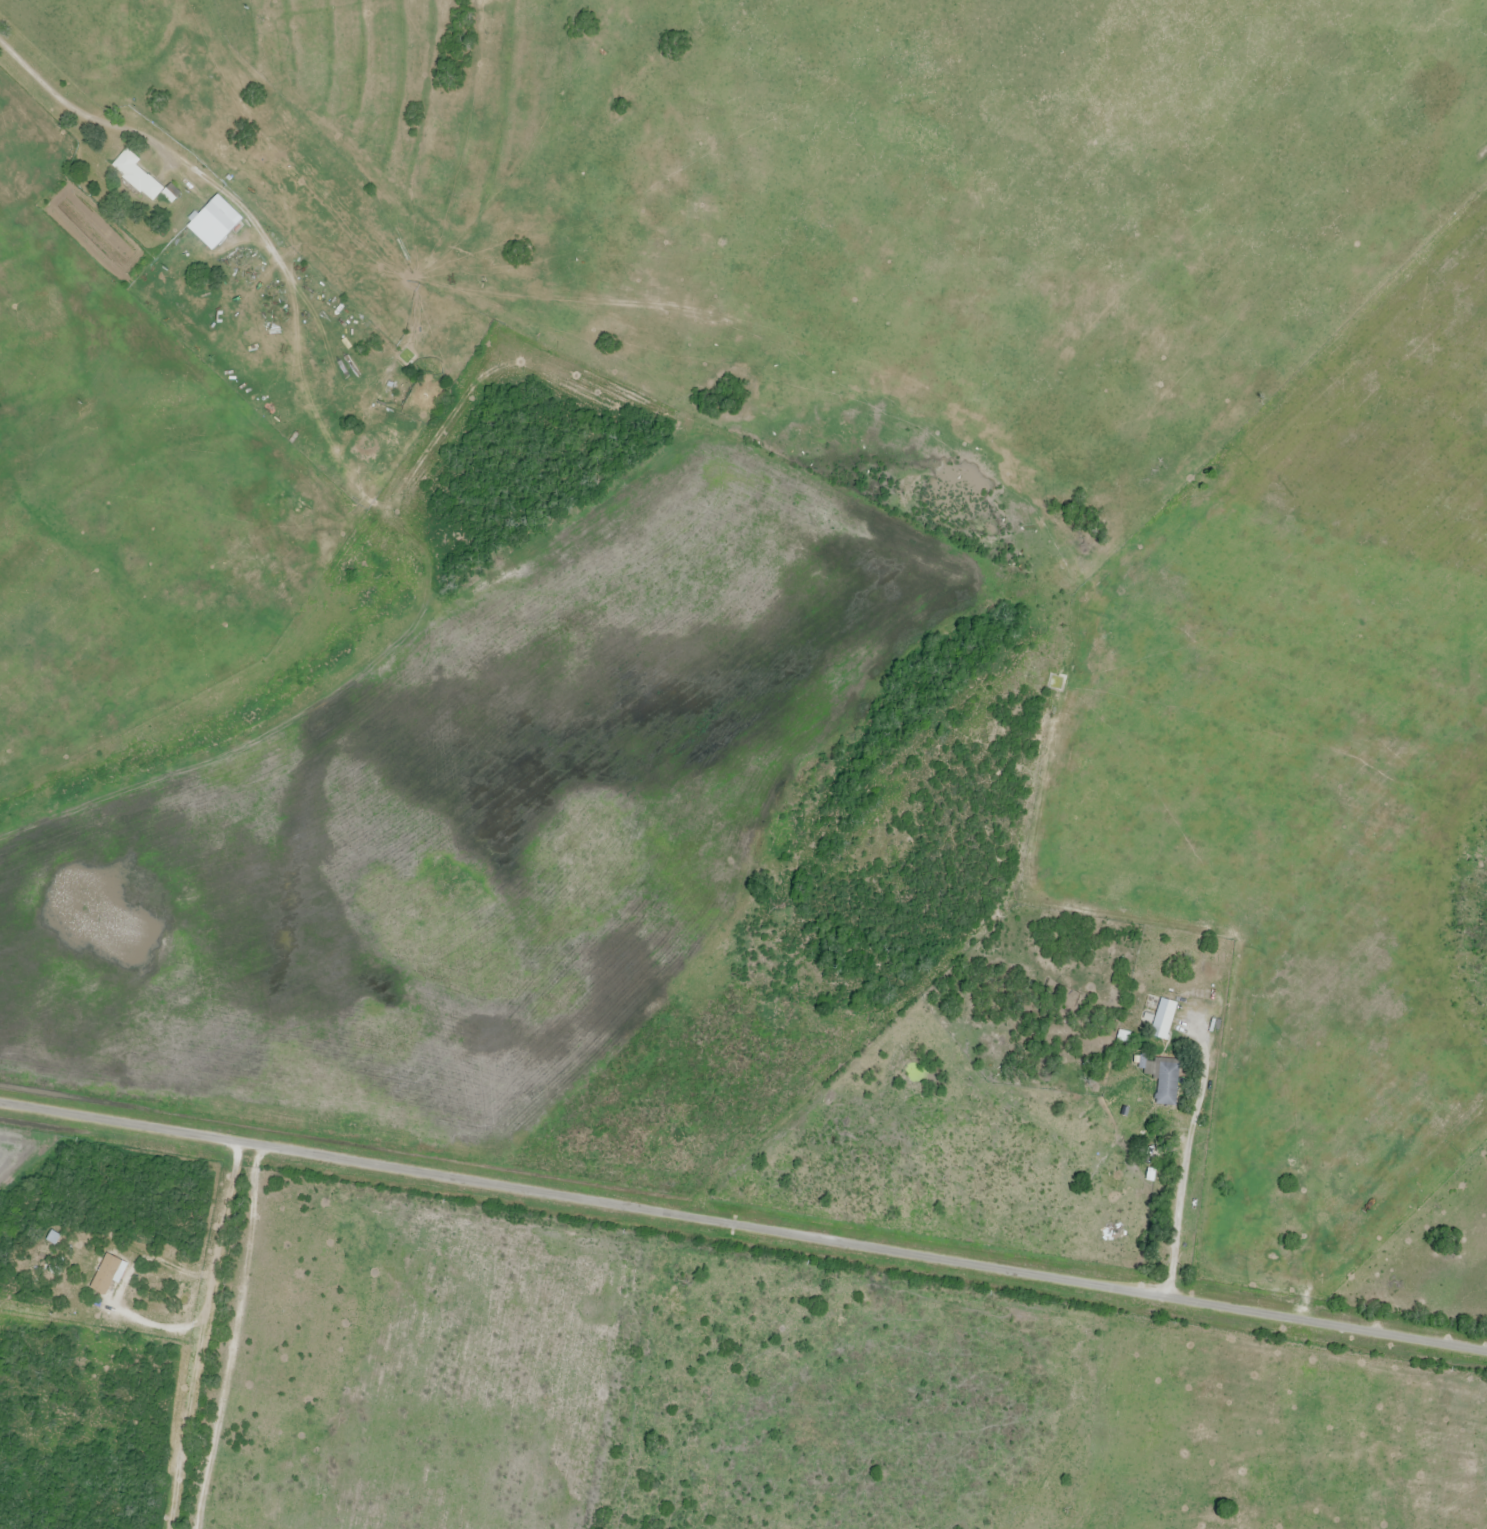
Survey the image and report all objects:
road: (81, 115)
building: (141, 179)
building: (224, 214)
building: (1163, 1017)
building: (1166, 1082)
road: (743, 1227)
road: (120, 1290)
road: (200, 1335)

